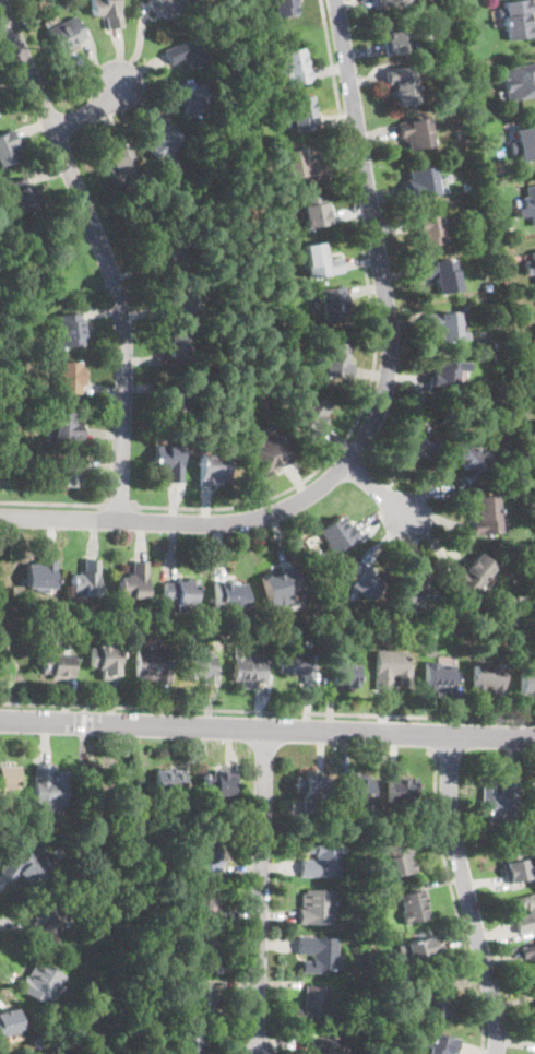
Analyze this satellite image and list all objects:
building: (388, 2)
building: (284, 7)
building: (166, 8)
building: (468, 8)
building: (107, 12)
building: (515, 19)
building: (62, 35)
building: (397, 37)
building: (187, 52)
building: (292, 66)
building: (519, 81)
building: (403, 84)
building: (194, 100)
road: (88, 110)
building: (301, 112)
building: (460, 131)
building: (416, 133)
building: (526, 142)
building: (163, 144)
building: (8, 149)
building: (302, 164)
building: (121, 167)
building: (420, 183)
building: (23, 193)
building: (530, 202)
building: (316, 212)
building: (430, 229)
building: (499, 233)
building: (474, 239)
road: (107, 250)
building: (166, 253)
building: (320, 261)
building: (530, 264)
building: (440, 274)
building: (260, 281)
building: (488, 286)
building: (179, 303)
building: (333, 304)
park: (36, 312)
building: (534, 325)
building: (447, 327)
building: (71, 330)
road: (376, 339)
building: (497, 344)
building: (178, 345)
building: (497, 358)
building: (336, 360)
building: (447, 376)
building: (70, 377)
building: (249, 393)
building: (174, 398)
building: (313, 413)
road: (376, 413)
building: (67, 427)
building: (418, 441)
building: (272, 455)
building: (468, 459)
building: (168, 462)
building: (212, 469)
building: (61, 470)
road: (378, 493)
road: (52, 502)
road: (118, 506)
building: (485, 514)
building: (336, 535)
building: (38, 573)
building: (474, 573)
building: (84, 580)
building: (133, 581)
building: (361, 581)
building: (278, 585)
building: (179, 593)
building: (416, 593)
building: (229, 594)
building: (52, 662)
building: (107, 662)
building: (151, 664)
building: (296, 664)
building: (199, 668)
building: (246, 668)
building: (391, 668)
building: (343, 676)
building: (438, 677)
building: (488, 677)
building: (526, 684)
road: (266, 712)
road: (82, 721)
road: (266, 730)
building: (7, 773)
building: (168, 780)
building: (217, 781)
building: (48, 783)
building: (313, 785)
building: (353, 787)
building: (400, 790)
building: (533, 800)
building: (499, 803)
building: (205, 852)
building: (400, 856)
building: (319, 858)
building: (25, 868)
building: (515, 869)
road: (106, 889)
road: (260, 891)
road: (465, 892)
road: (454, 901)
building: (203, 903)
building: (314, 905)
building: (413, 905)
building: (524, 911)
building: (38, 916)
building: (201, 950)
building: (419, 951)
building: (317, 954)
building: (530, 957)
building: (40, 983)
building: (433, 998)
building: (200, 1000)
building: (312, 1004)
building: (534, 1010)
building: (9, 1020)
building: (188, 1042)
building: (440, 1044)
building: (330, 1049)

